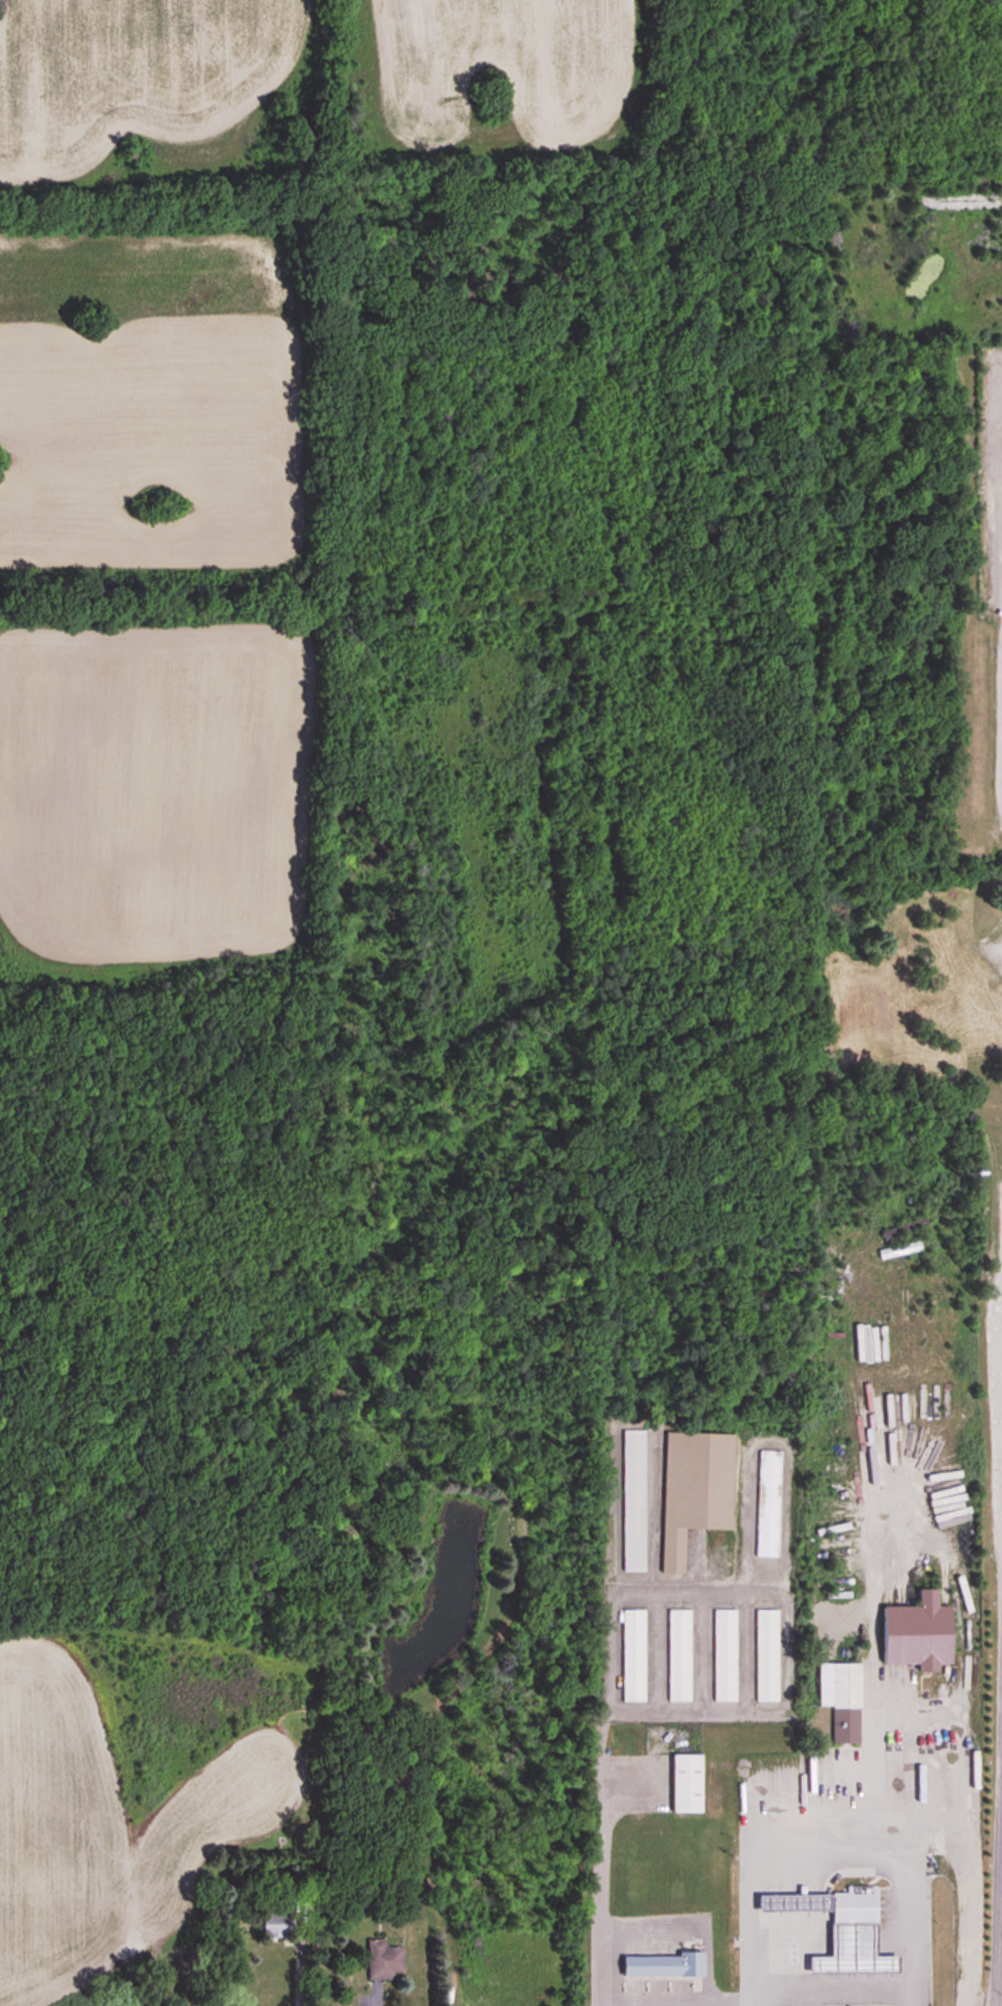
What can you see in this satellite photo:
building: (902, 1228)
building: (917, 1246)
building: (934, 1280)
building: (694, 1491)
building: (633, 1501)
building: (767, 1504)
building: (916, 1635)
building: (633, 1656)
building: (678, 1656)
building: (724, 1656)
building: (765, 1656)
building: (840, 1700)
building: (686, 1785)
road: (832, 1857)
road: (599, 1884)
road: (964, 1898)
building: (793, 1903)
building: (853, 1905)
road: (998, 1923)
building: (275, 1926)
building: (853, 1953)
building: (384, 1962)
building: (662, 1967)
road: (299, 1976)
road: (837, 1990)
road: (681, 1995)

